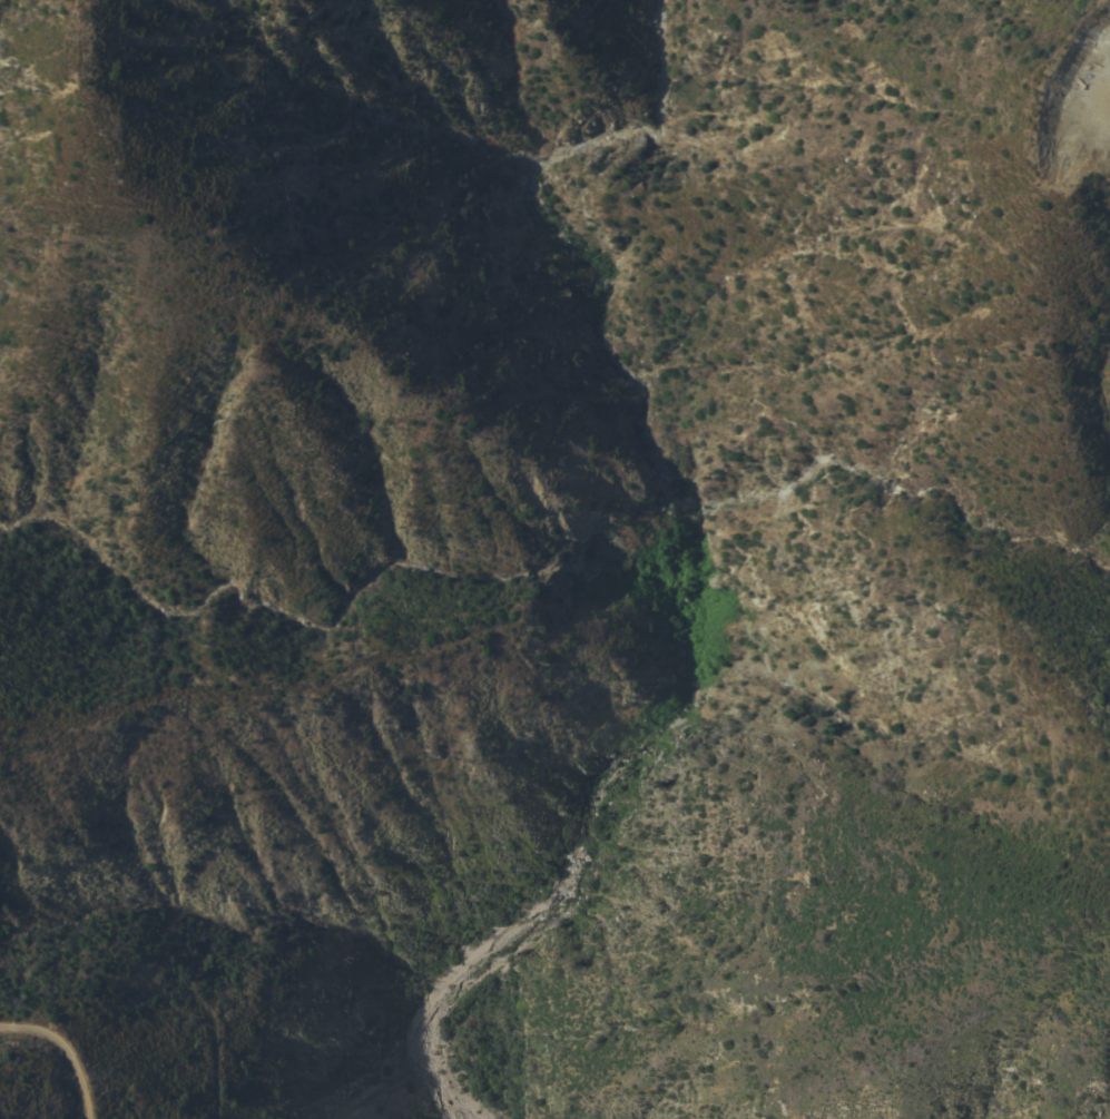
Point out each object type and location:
quarry: (1003, 46)
road: (65, 1052)

